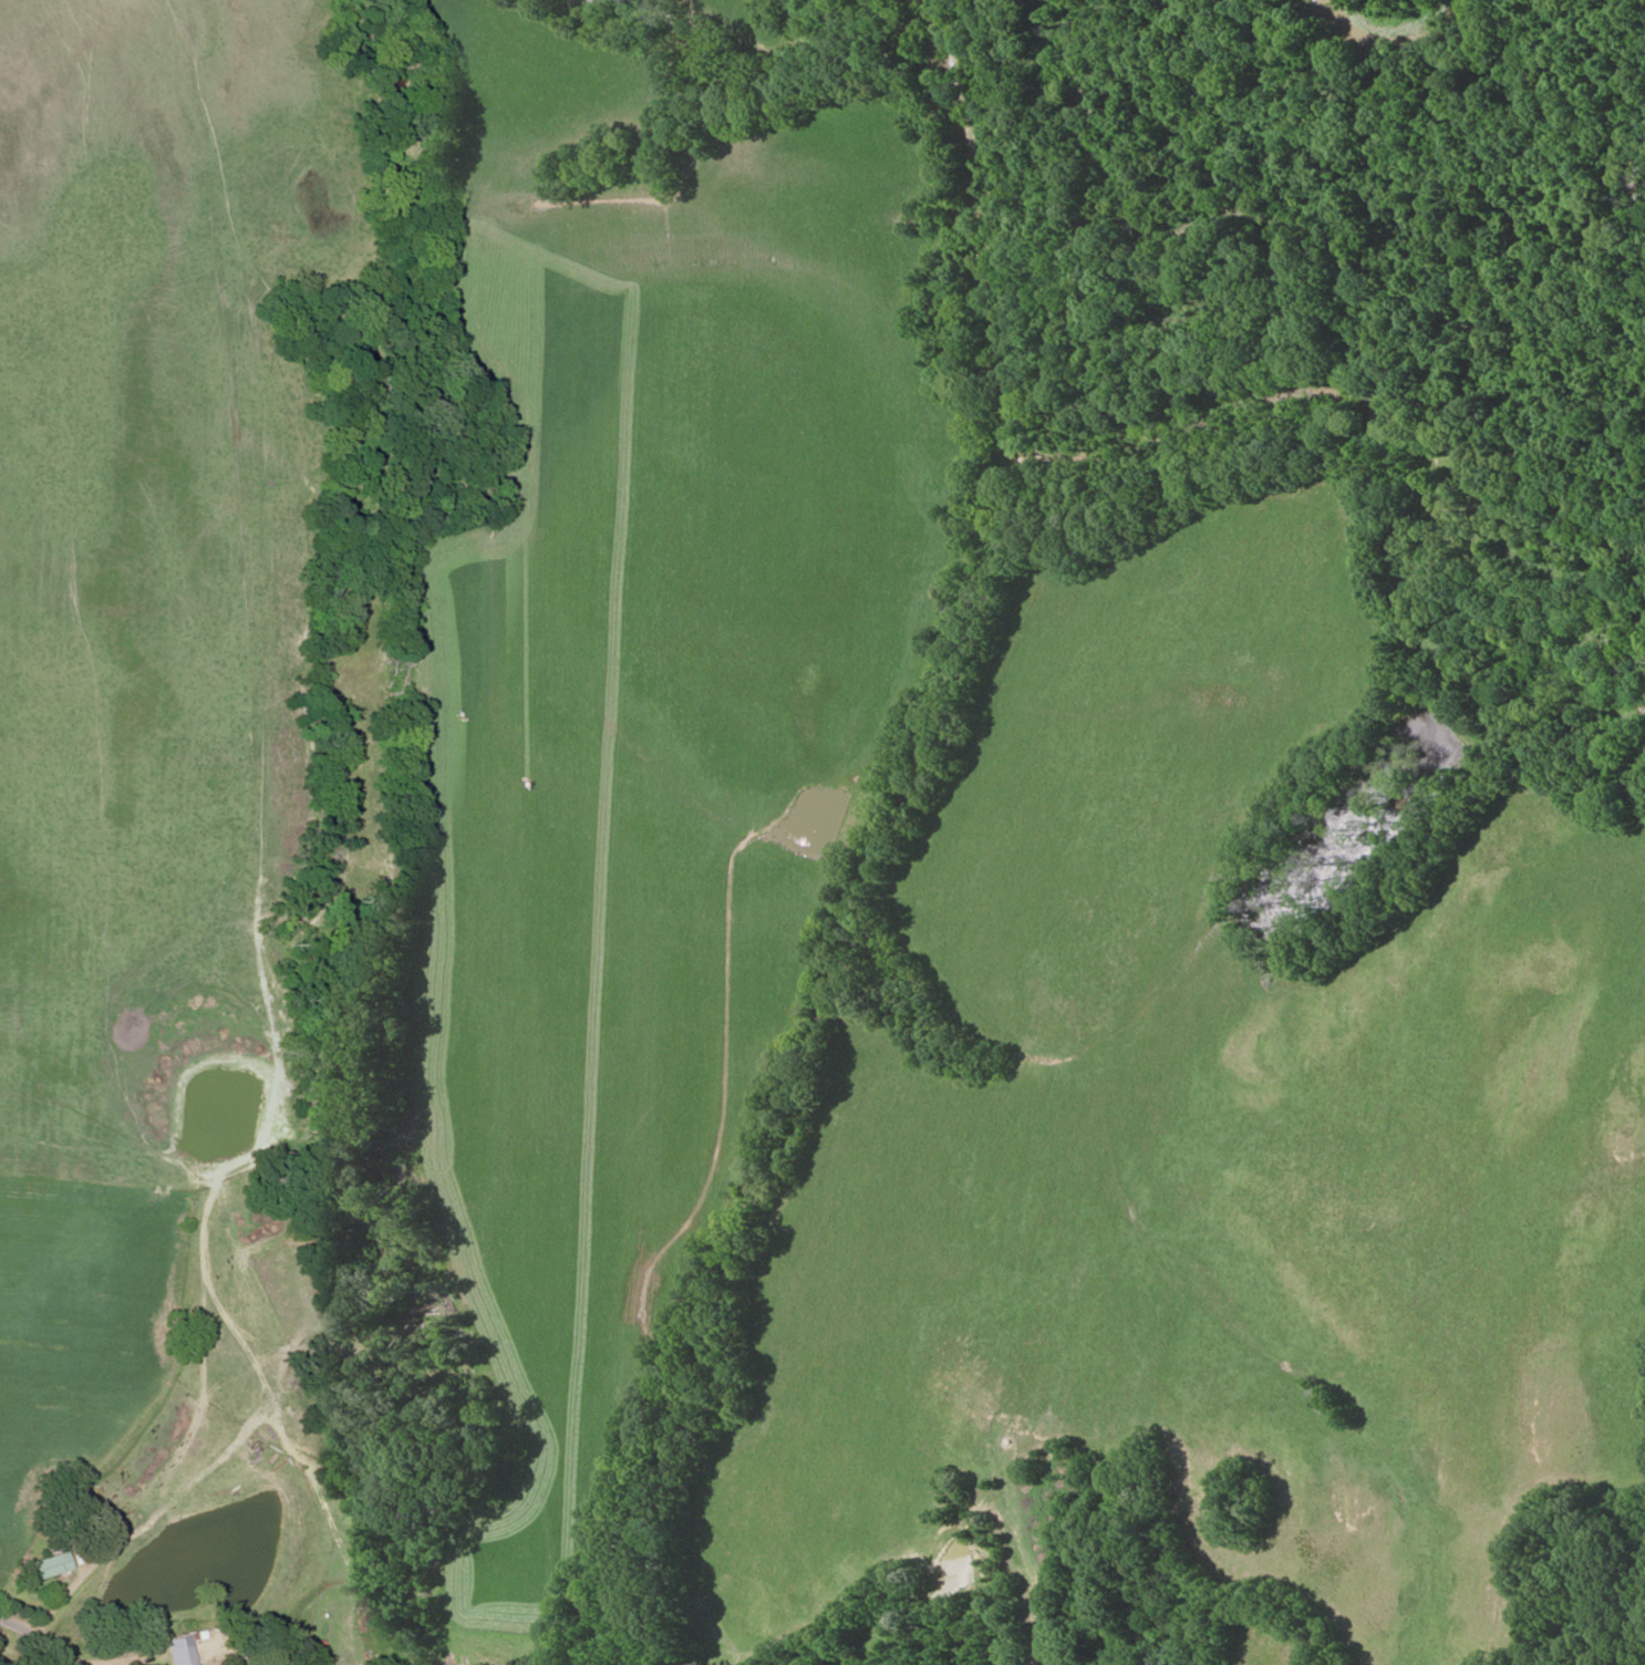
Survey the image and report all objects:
building: (50, 1565)
road: (34, 1642)
building: (178, 1651)

